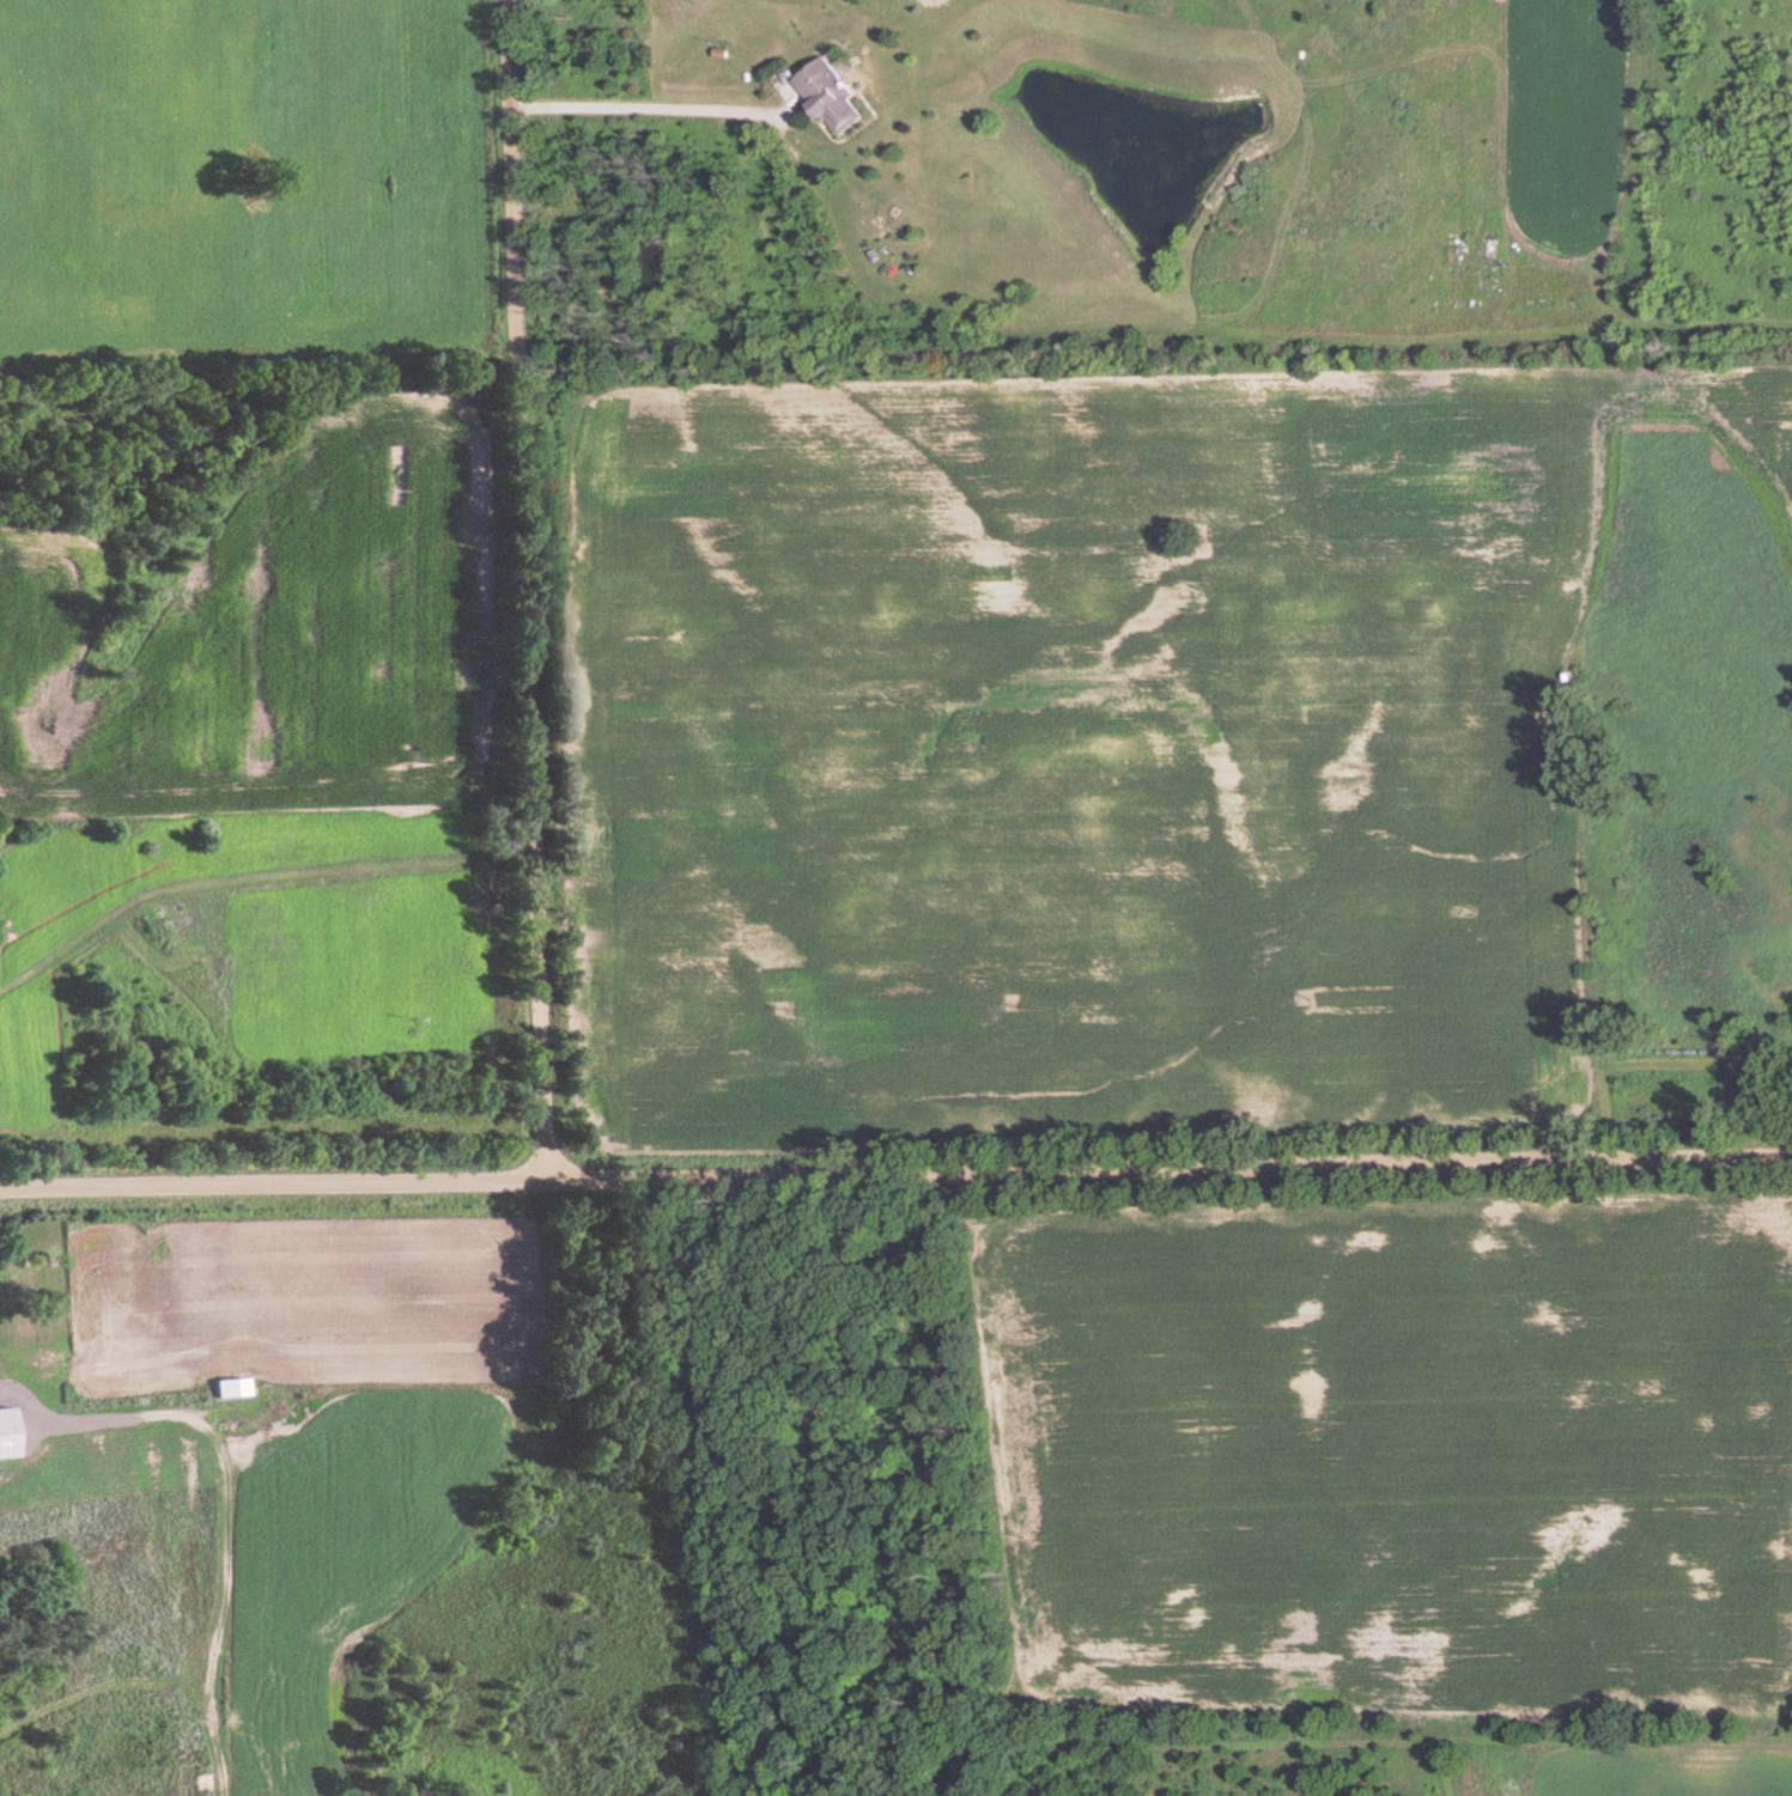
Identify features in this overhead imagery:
building: (821, 98)
road: (630, 106)
building: (1487, 250)
road: (521, 587)
road: (895, 1168)
building: (56, 1366)
building: (12, 1433)

